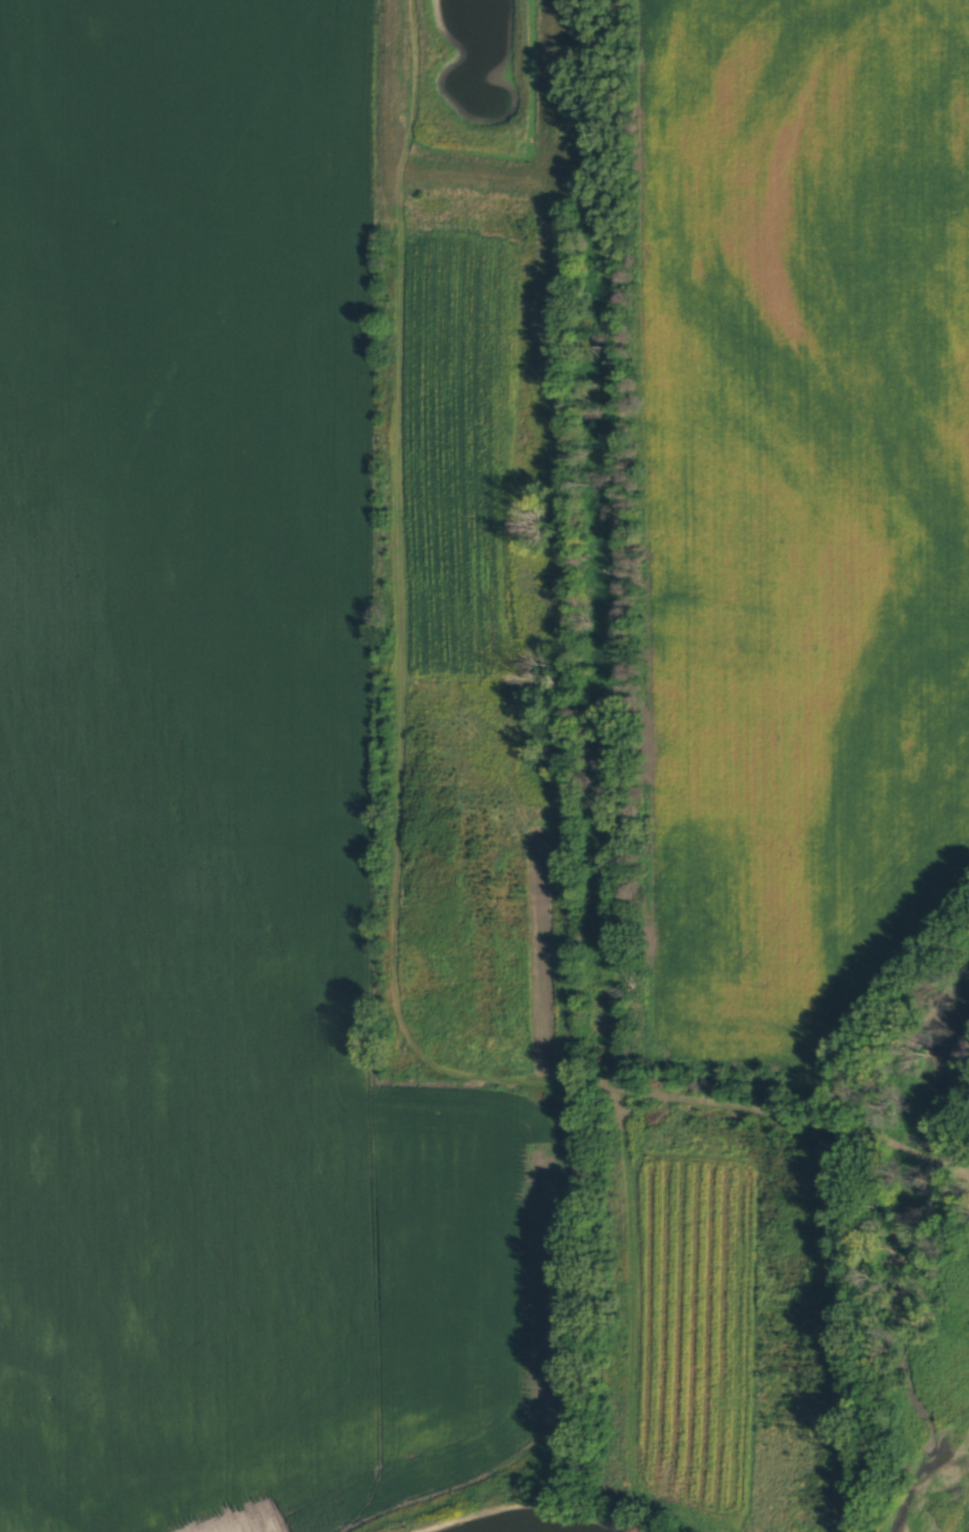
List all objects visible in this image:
river: (964, 1527)

